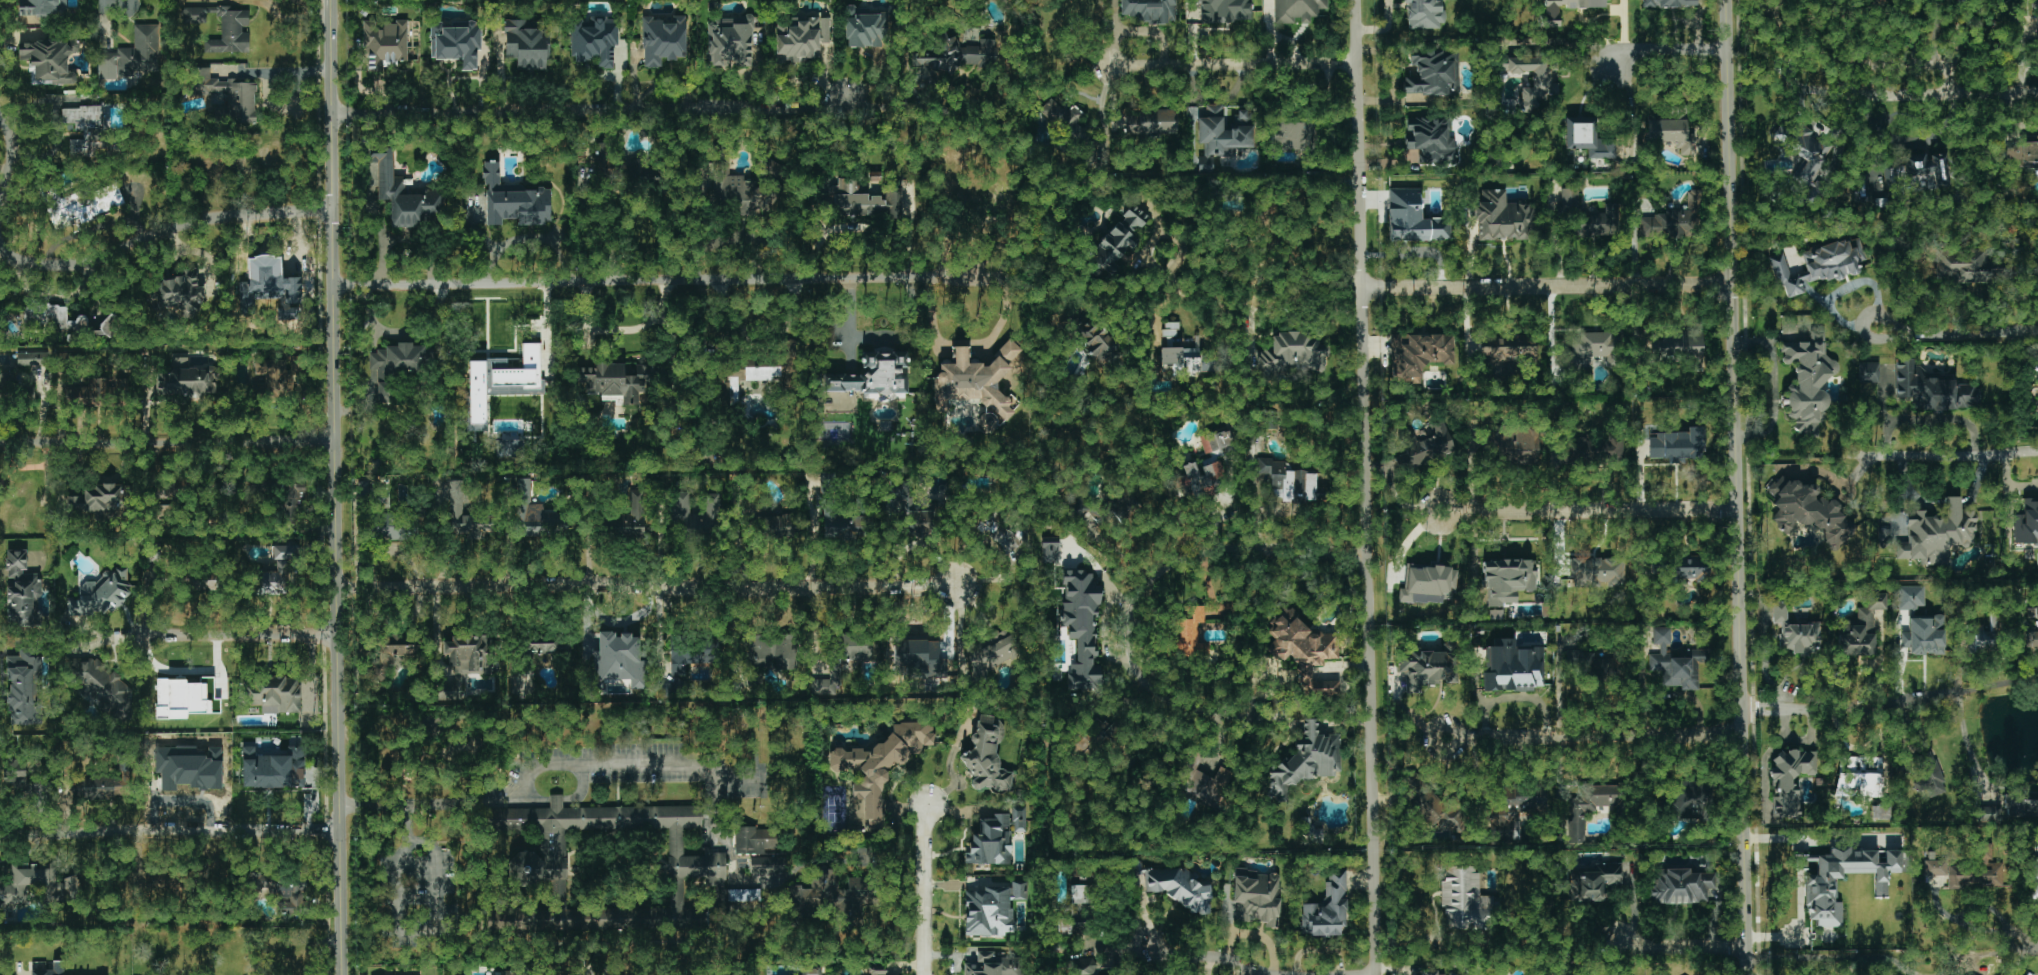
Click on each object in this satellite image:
building: (1782, 2)
building: (1667, 3)
building: (42, 8)
building: (1297, 10)
building: (1552, 10)
building: (1225, 11)
building: (1424, 14)
building: (194, 15)
building: (2037, 25)
building: (866, 27)
road: (1384, 28)
road: (1957, 30)
building: (231, 32)
road: (1936, 32)
building: (800, 38)
building: (663, 39)
building: (594, 40)
building: (729, 41)
building: (456, 43)
building: (385, 44)
building: (528, 44)
road: (1665, 51)
road: (1816, 51)
building: (133, 52)
building: (953, 54)
road: (1055, 58)
building: (50, 59)
road: (1233, 64)
road: (1912, 64)
road: (2024, 72)
building: (1433, 73)
building: (1545, 85)
road: (1849, 86)
road: (1951, 93)
building: (230, 95)
road: (590, 109)
road: (1105, 110)
building: (1062, 121)
building: (1153, 122)
road: (1877, 123)
building: (82, 127)
building: (1672, 130)
building: (1222, 135)
building: (1293, 135)
building: (1587, 138)
building: (1431, 139)
road: (1358, 143)
building: (2023, 154)
building: (601, 156)
building: (1910, 173)
building: (373, 174)
building: (732, 187)
building: (406, 195)
building: (1570, 198)
building: (515, 200)
building: (985, 200)
building: (863, 201)
building: (84, 205)
building: (1503, 217)
building: (1413, 218)
building: (1674, 220)
building: (1597, 223)
road: (856, 227)
building: (1118, 238)
road: (1553, 242)
road: (99, 252)
building: (1818, 265)
building: (1972, 266)
road: (656, 281)
road: (1545, 287)
road: (1844, 289)
building: (179, 293)
road: (1288, 293)
building: (53, 317)
road: (1956, 334)
road: (976, 342)
building: (1098, 343)
building: (1677, 345)
building: (1508, 347)
building: (1596, 348)
building: (1419, 354)
building: (1292, 355)
building: (32, 359)
building: (1185, 360)
building: (775, 364)
building: (395, 366)
building: (1868, 372)
building: (872, 375)
building: (275, 377)
building: (186, 379)
building: (978, 379)
building: (614, 380)
building: (502, 381)
building: (1808, 381)
building: (5, 386)
building: (120, 386)
building: (1932, 388)
building: (733, 389)
road: (1930, 419)
road: (167, 442)
building: (1514, 443)
building: (1678, 444)
building: (1612, 447)
building: (509, 448)
building: (1422, 448)
building: (1579, 450)
road: (1943, 454)
road: (1791, 458)
building: (1205, 467)
building: (1288, 481)
road: (2008, 482)
road: (336, 487)
road: (1733, 487)
building: (96, 500)
building: (294, 501)
road: (1943, 503)
building: (1808, 510)
road: (1587, 512)
building: (534, 514)
building: (636, 516)
building: (1089, 520)
building: (772, 524)
building: (2026, 524)
building: (393, 526)
building: (845, 526)
building: (1937, 533)
road: (1406, 545)
building: (1050, 550)
building: (153, 551)
building: (284, 552)
road: (1155, 569)
building: (1597, 572)
building: (275, 579)
building: (1507, 579)
building: (190, 583)
building: (1428, 584)
road: (647, 586)
building: (21, 590)
building: (104, 593)
building: (1910, 597)
building: (1779, 612)
building: (2037, 625)
building: (1081, 626)
building: (1859, 628)
road: (1366, 631)
road: (251, 635)
building: (1190, 635)
building: (1923, 636)
building: (1799, 638)
building: (1980, 639)
building: (1300, 641)
building: (546, 645)
building: (854, 645)
building: (772, 651)
building: (390, 652)
building: (469, 653)
building: (993, 653)
building: (693, 655)
building: (917, 658)
building: (619, 660)
building: (1675, 662)
building: (1591, 665)
building: (1426, 667)
building: (1512, 667)
building: (22, 684)
building: (826, 684)
building: (103, 687)
building: (1321, 688)
building: (668, 690)
building: (274, 694)
building: (186, 698)
building: (38, 715)
road: (1743, 718)
road: (1969, 746)
building: (987, 755)
building: (1304, 762)
road: (633, 763)
building: (1851, 763)
road: (949, 766)
building: (189, 768)
building: (878, 768)
building: (271, 769)
building: (16, 773)
building: (1929, 776)
building: (1790, 779)
building: (1203, 783)
building: (106, 787)
building: (79, 789)
building: (1689, 799)
building: (2014, 805)
building: (1590, 807)
building: (1514, 809)
building: (1436, 814)
building: (1019, 819)
road: (172, 831)
building: (1311, 833)
road: (1816, 837)
building: (755, 840)
building: (990, 841)
building: (763, 864)
building: (696, 865)
building: (1935, 867)
building: (1976, 875)
building: (2033, 879)
building: (1594, 881)
building: (39, 885)
building: (1681, 886)
building: (1820, 887)
road: (924, 888)
building: (1179, 888)
building: (281, 890)
building: (744, 895)
building: (1257, 896)
building: (833, 897)
building: (1080, 897)
building: (1465, 900)
building: (1327, 908)
building: (992, 909)
road: (411, 927)
building: (1071, 928)
road: (1799, 930)
road: (1419, 937)
road: (1682, 947)
road: (2023, 950)
road: (1183, 953)
road: (1794, 958)
building: (992, 965)
road: (1211, 965)
building: (1082, 966)
building: (51, 970)
building: (877, 970)
road: (19, 971)
building: (811, 971)
building: (1429, 973)
building: (510, 974)

